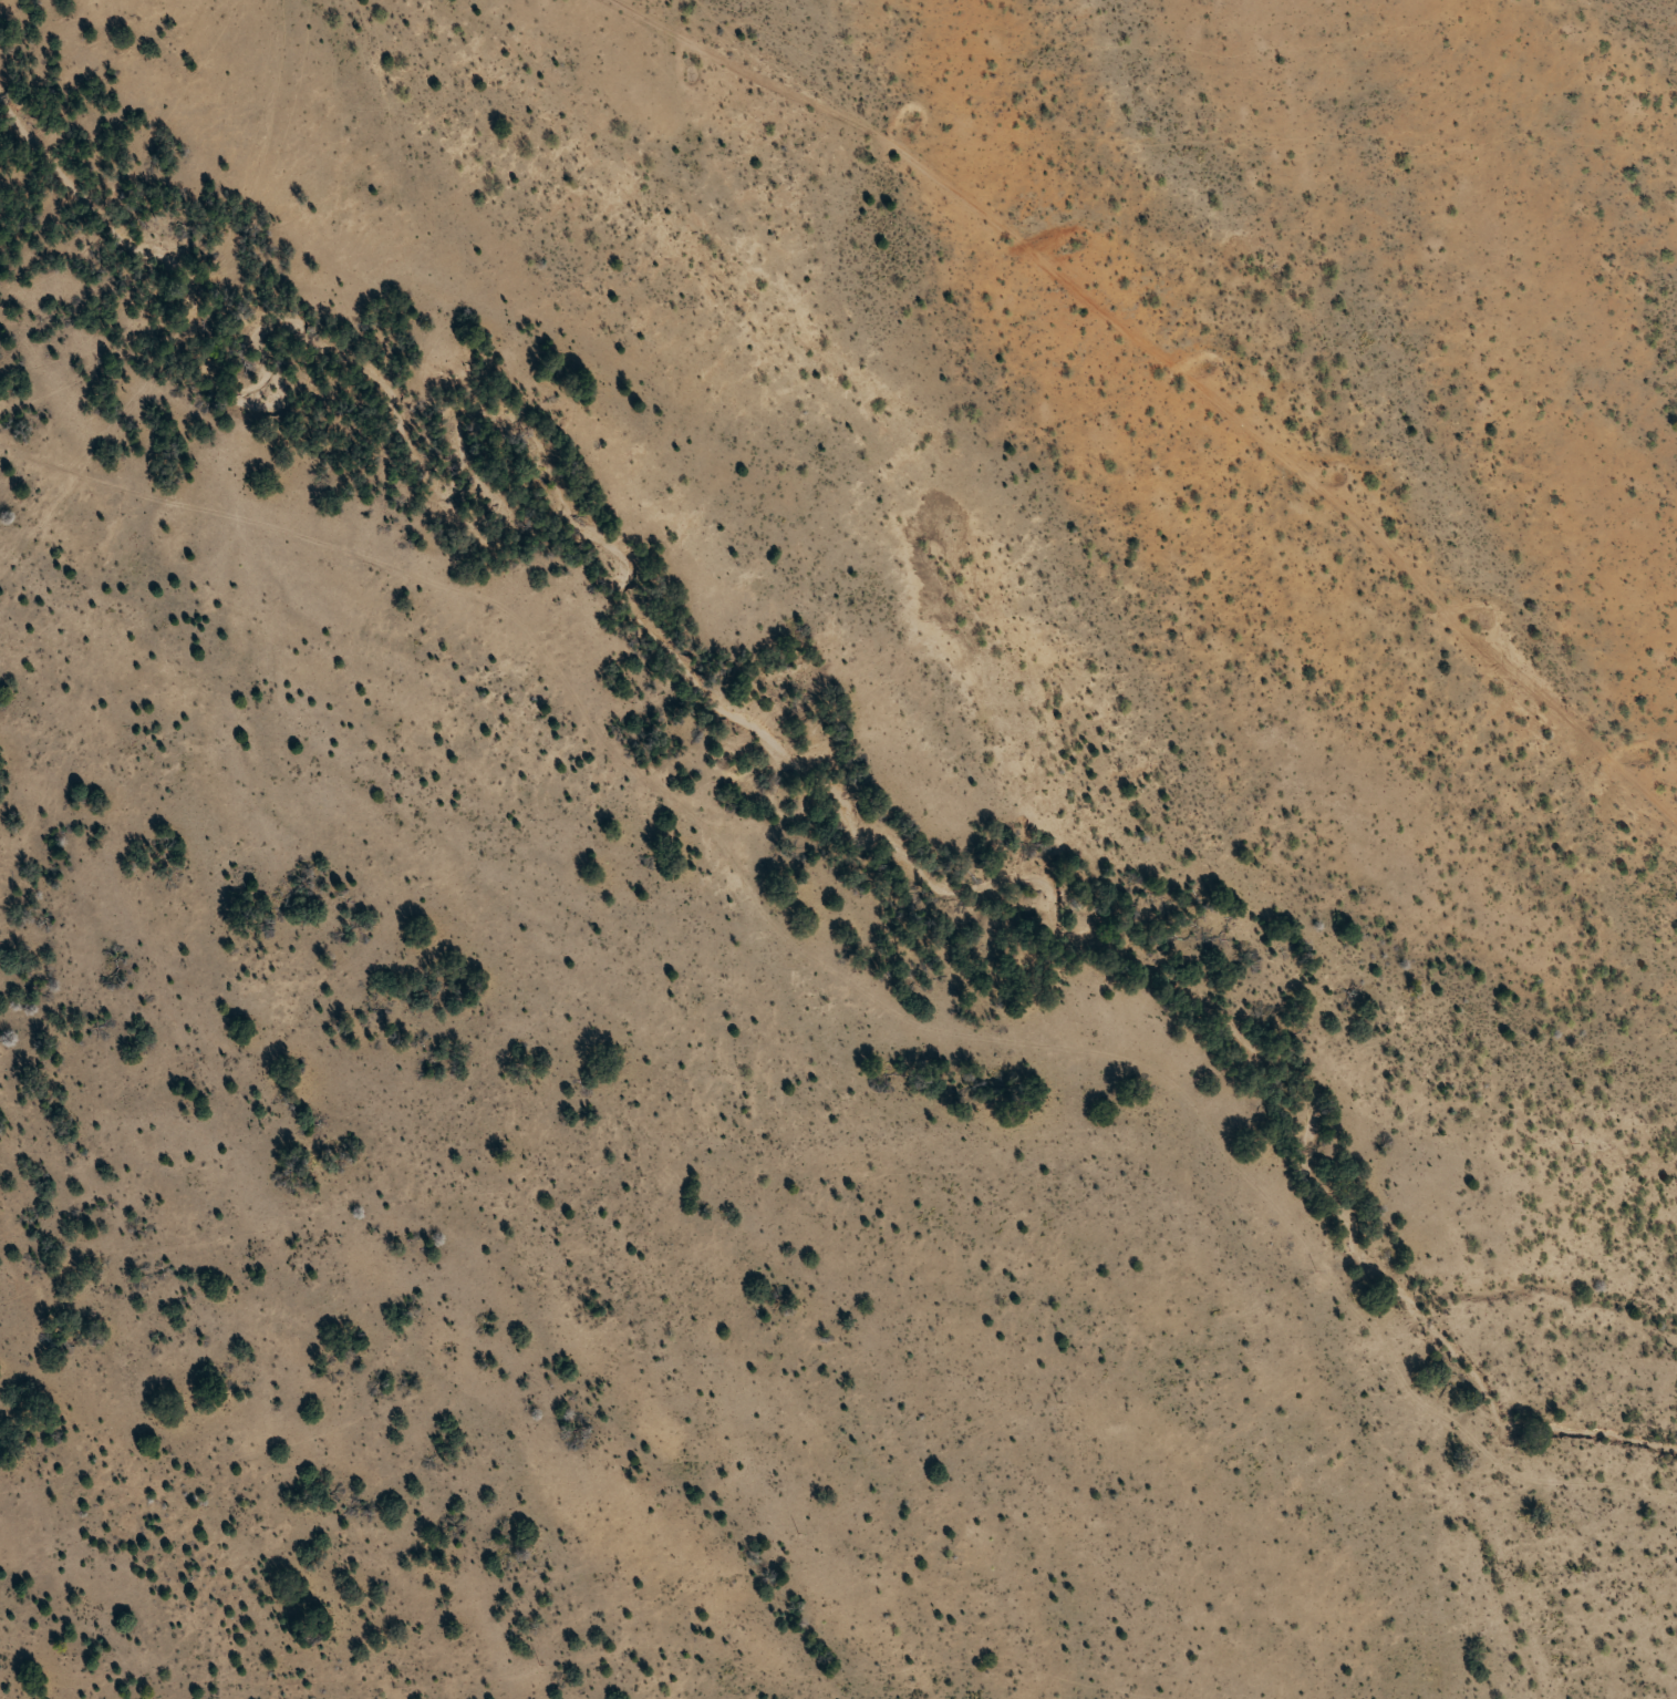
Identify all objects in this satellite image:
road: (1182, 377)

